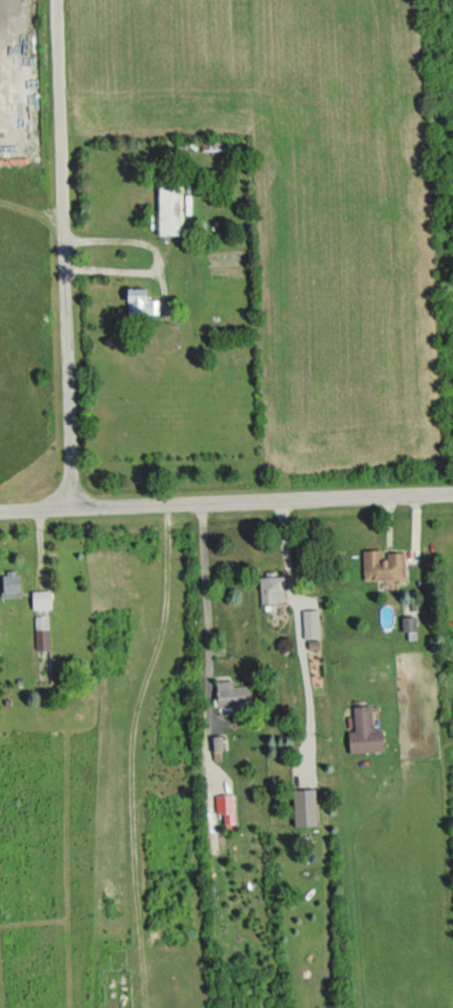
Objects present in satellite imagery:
building: (169, 208)
road: (63, 253)
building: (140, 301)
road: (226, 500)
building: (382, 564)
building: (10, 583)
building: (271, 588)
building: (41, 599)
building: (310, 623)
building: (408, 624)
building: (41, 631)
road: (298, 633)
building: (232, 694)
building: (452, 702)
building: (364, 731)
building: (217, 743)
building: (304, 806)
building: (225, 807)

